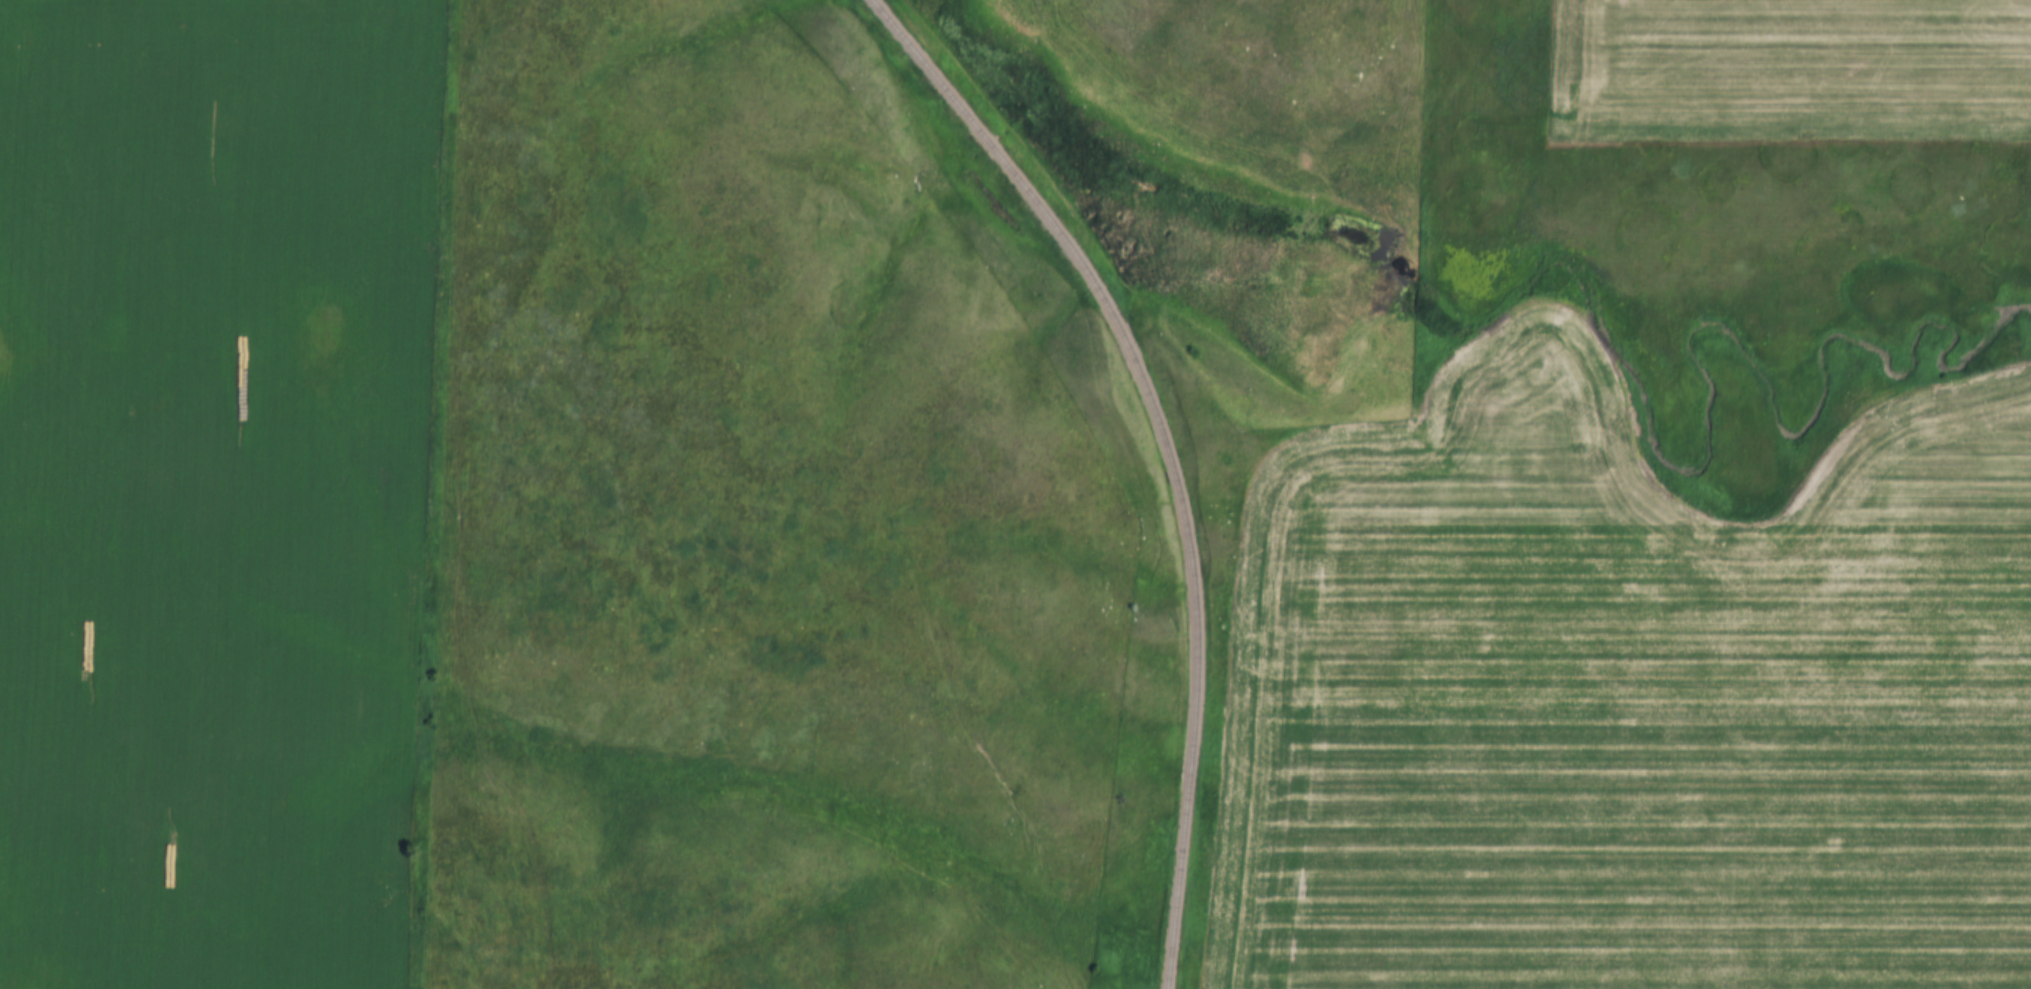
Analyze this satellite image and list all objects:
railway: (1171, 449)
road: (429, 494)

